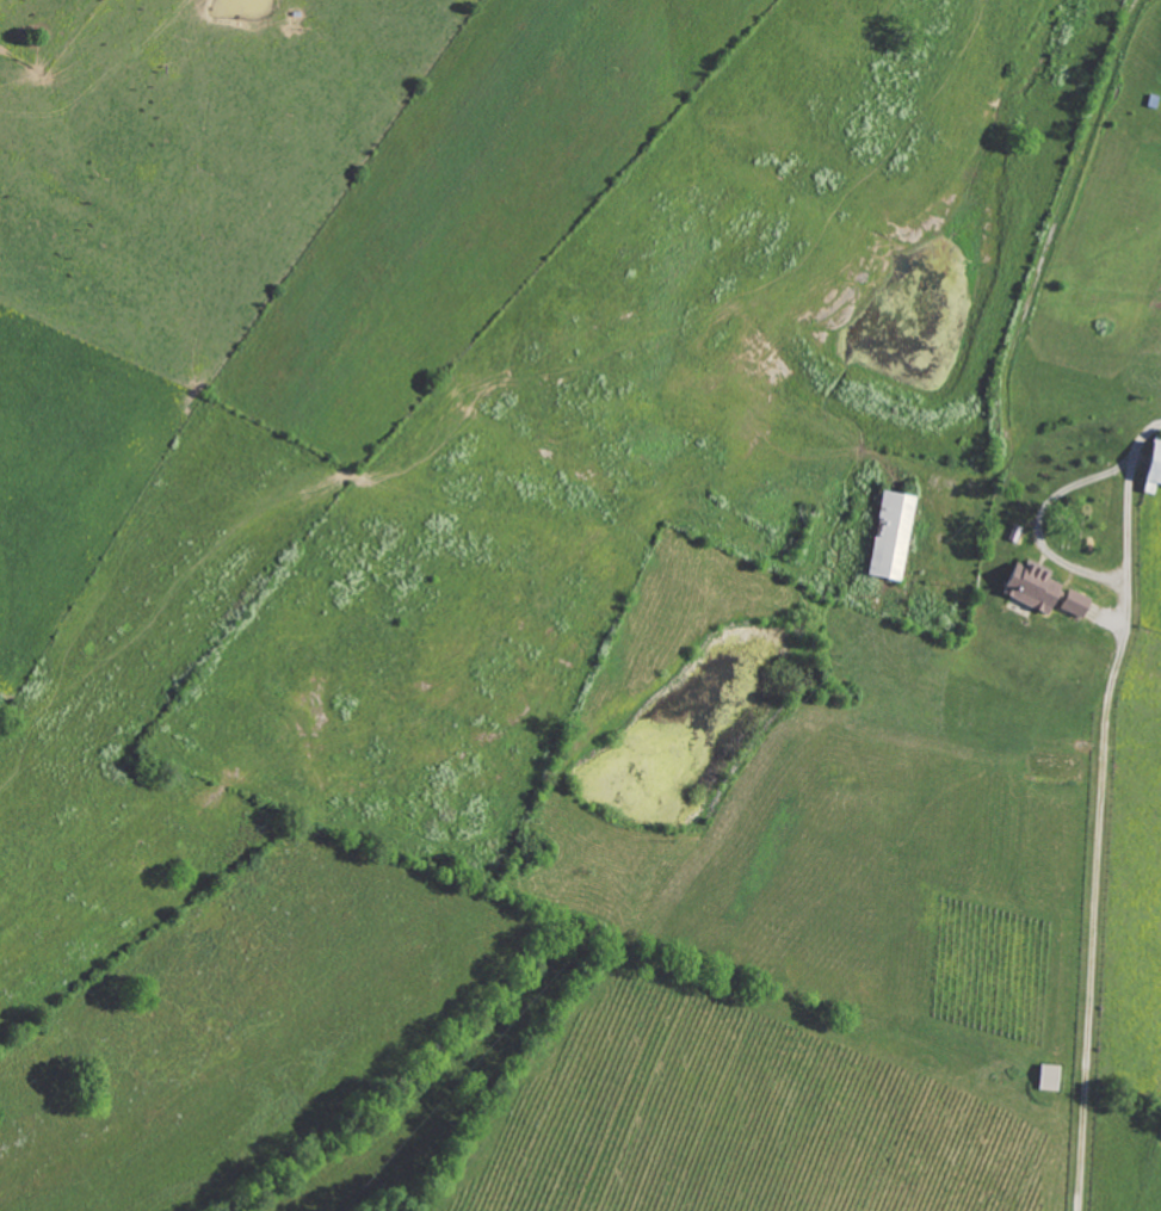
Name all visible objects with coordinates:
building: (1149, 468)
road: (1038, 521)
building: (888, 536)
building: (1026, 586)
building: (1067, 601)
road: (1100, 811)

